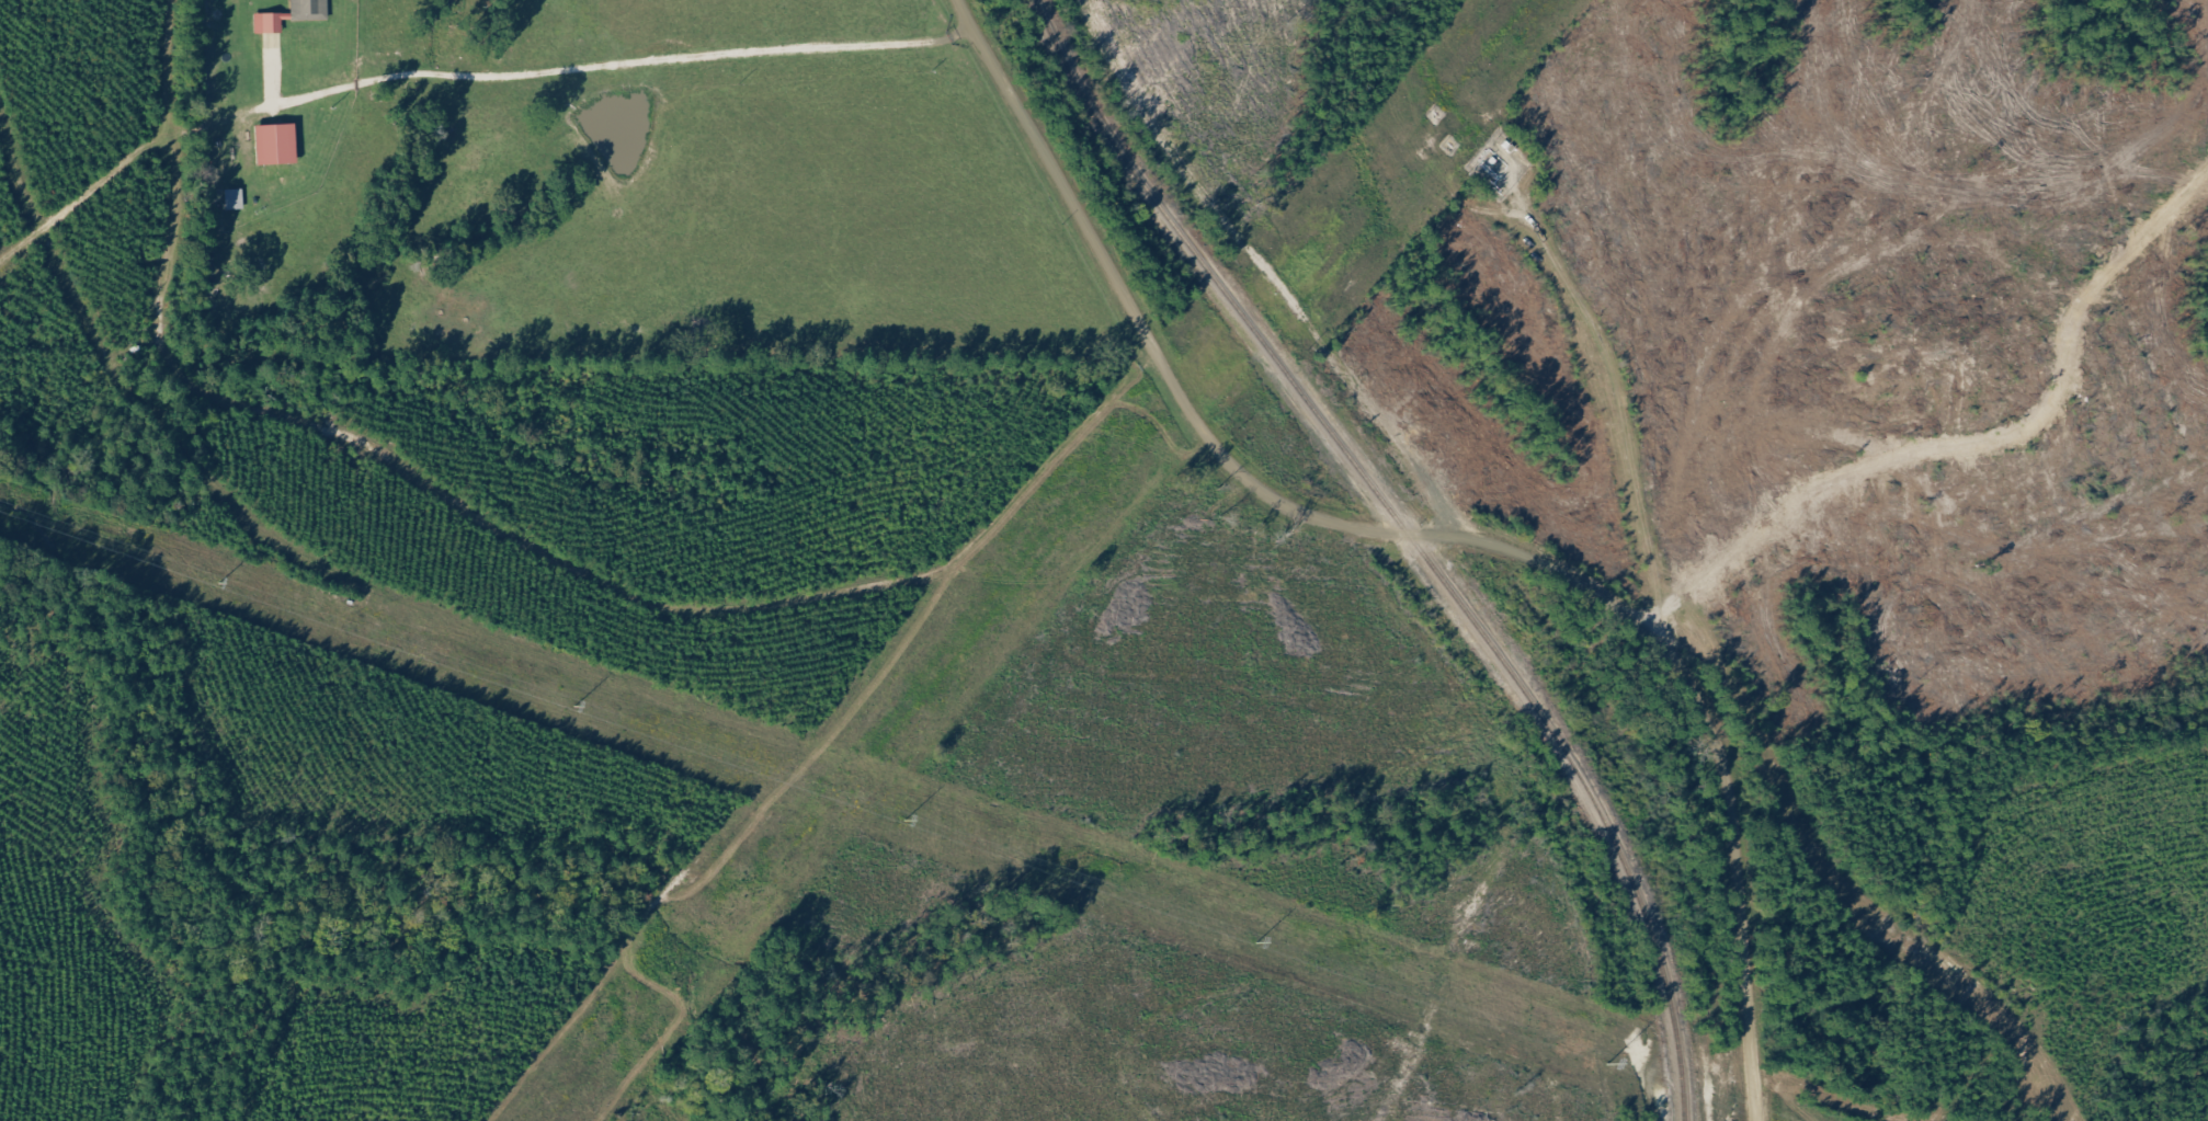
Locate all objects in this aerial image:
building: (311, 10)
building: (271, 24)
road: (594, 65)
building: (280, 146)
building: (236, 199)
railway: (1409, 536)
road: (1426, 537)
road: (661, 586)

